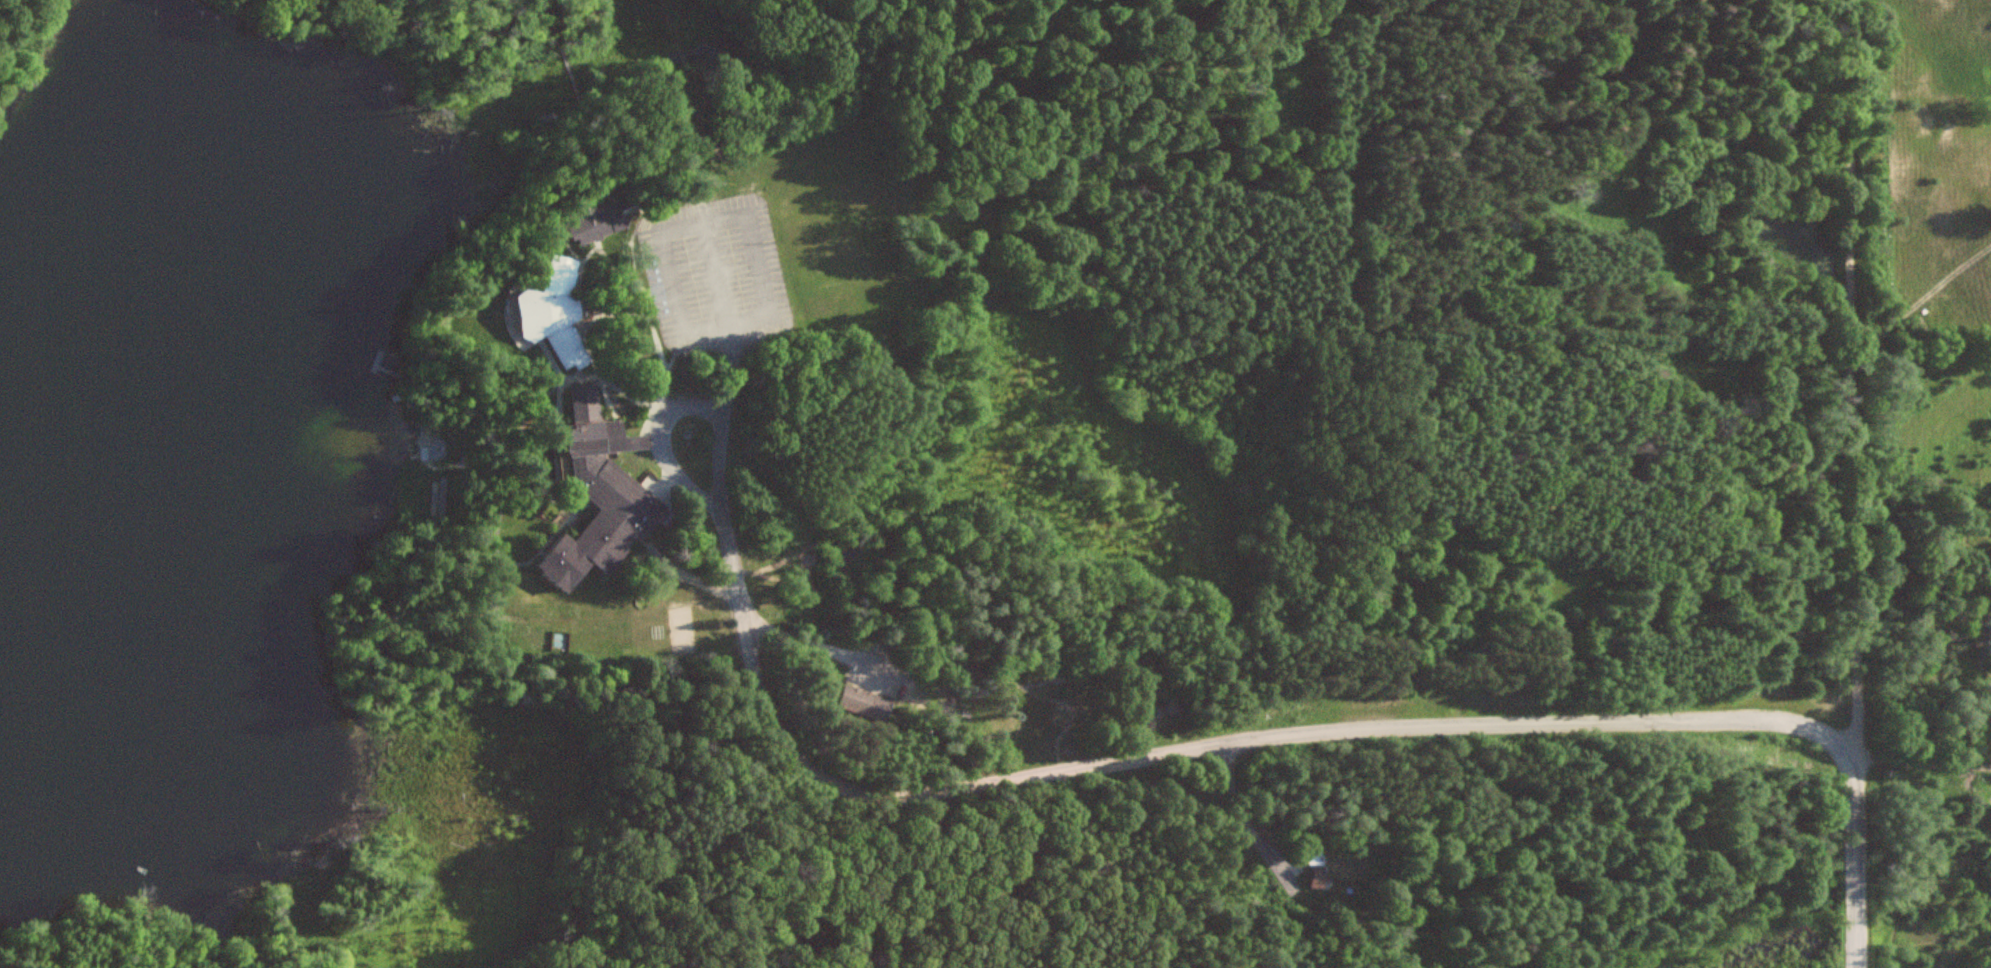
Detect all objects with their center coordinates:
building: (599, 222)
building: (557, 312)
road: (1850, 383)
road: (674, 469)
building: (601, 496)
building: (867, 702)
road: (1116, 760)
road: (1853, 866)
building: (1319, 875)

